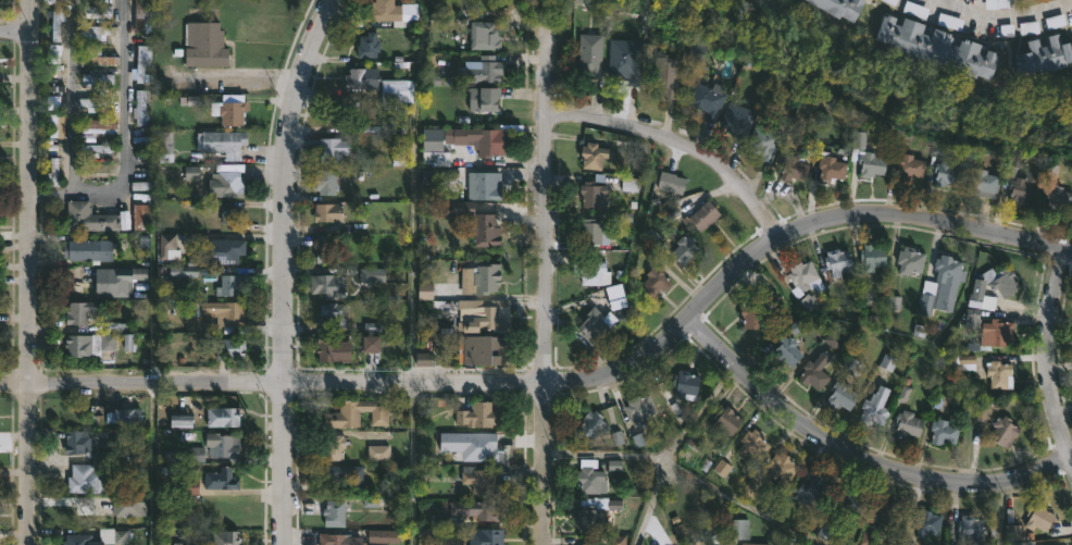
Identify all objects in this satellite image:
building: (836, 7)
building: (382, 11)
building: (98, 13)
building: (140, 16)
road: (1005, 17)
building: (59, 27)
road: (14, 29)
building: (101, 32)
building: (484, 34)
building: (205, 44)
building: (366, 45)
building: (933, 47)
building: (1044, 53)
building: (590, 54)
building: (110, 62)
building: (140, 62)
building: (624, 65)
building: (487, 69)
building: (665, 74)
road: (241, 77)
building: (359, 78)
road: (50, 80)
building: (482, 98)
road: (130, 99)
building: (708, 99)
building: (191, 102)
building: (142, 106)
building: (96, 107)
building: (232, 109)
road: (74, 117)
building: (736, 120)
building: (60, 124)
building: (99, 125)
building: (481, 138)
building: (763, 143)
road: (678, 144)
building: (221, 145)
building: (328, 148)
building: (98, 151)
building: (591, 154)
building: (870, 163)
building: (909, 165)
building: (830, 166)
building: (788, 168)
building: (948, 173)
building: (1018, 178)
building: (324, 181)
building: (669, 183)
building: (984, 183)
building: (224, 184)
building: (485, 185)
building: (590, 190)
building: (1058, 198)
building: (326, 211)
building: (232, 214)
building: (701, 215)
building: (83, 218)
building: (484, 228)
building: (593, 232)
building: (167, 246)
building: (87, 249)
building: (323, 249)
building: (685, 249)
building: (221, 250)
building: (872, 256)
building: (909, 259)
building: (835, 263)
road: (283, 269)
building: (590, 270)
road: (28, 272)
road: (421, 275)
building: (373, 276)
building: (482, 276)
building: (802, 277)
building: (117, 278)
building: (655, 281)
building: (1005, 282)
building: (326, 283)
building: (942, 284)
building: (229, 285)
road: (545, 292)
building: (980, 296)
building: (618, 298)
building: (78, 311)
building: (225, 311)
building: (333, 312)
building: (483, 314)
building: (752, 315)
building: (595, 324)
building: (997, 331)
building: (88, 344)
building: (224, 347)
building: (332, 348)
building: (482, 349)
building: (787, 349)
road: (1047, 356)
building: (425, 361)
building: (814, 371)
building: (999, 374)
road: (568, 381)
building: (685, 383)
building: (840, 395)
road: (961, 404)
building: (639, 406)
road: (153, 407)
building: (874, 408)
building: (356, 413)
building: (477, 414)
building: (225, 417)
building: (725, 420)
building: (906, 423)
building: (591, 424)
building: (943, 432)
building: (1004, 432)
building: (83, 441)
building: (752, 443)
building: (220, 445)
building: (333, 446)
road: (673, 448)
road: (858, 453)
building: (379, 454)
building: (781, 470)
road: (686, 474)
building: (87, 478)
building: (589, 478)
building: (220, 479)
building: (479, 479)
building: (332, 484)
building: (810, 490)
building: (848, 501)
building: (475, 509)
building: (333, 512)
building: (591, 512)
building: (1037, 517)
building: (890, 518)
building: (926, 523)
building: (969, 529)
building: (741, 530)
building: (485, 536)
building: (221, 537)
building: (342, 537)
building: (80, 540)
building: (587, 544)
building: (718, 544)

